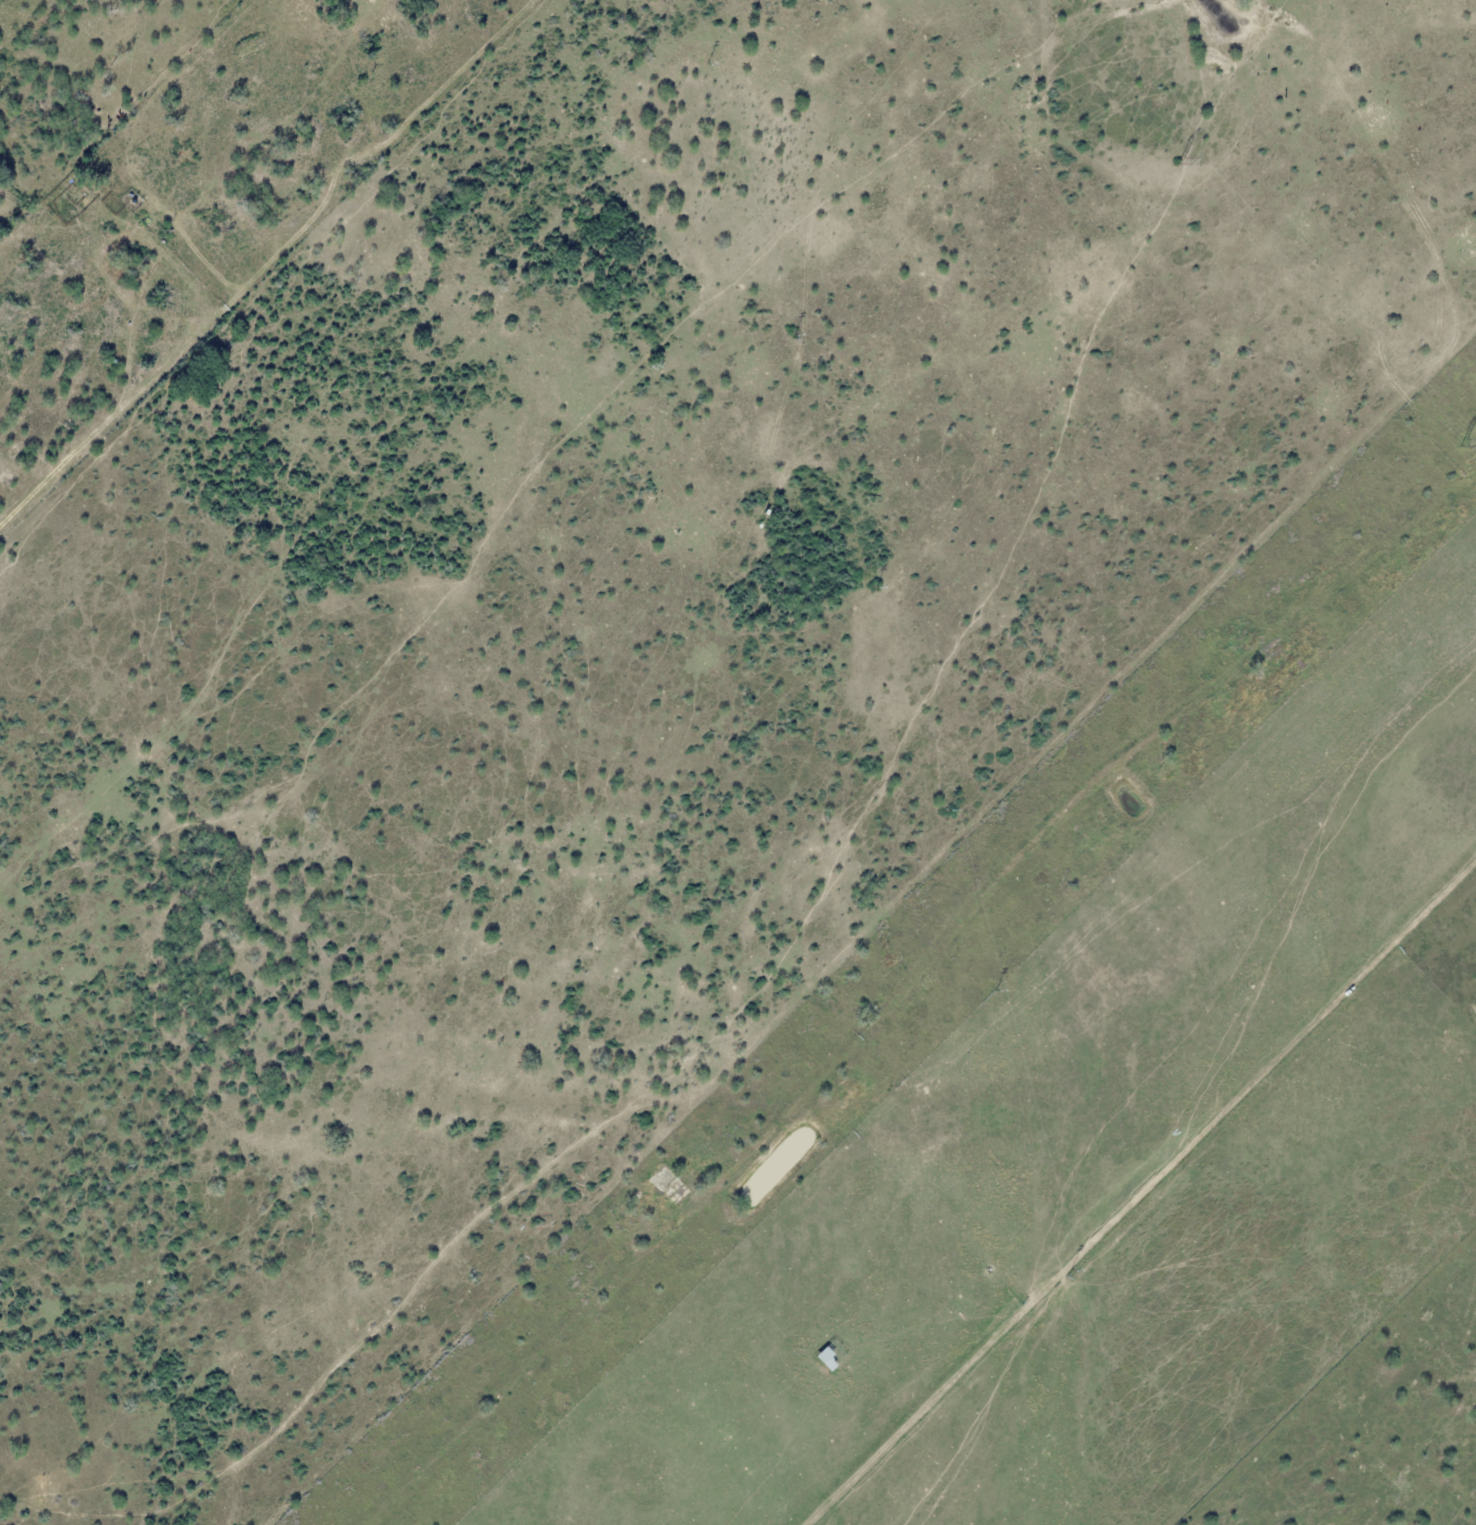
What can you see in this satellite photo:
road: (866, 21)
power tower: (1180, 160)
power tower: (1463, 443)
building: (830, 1355)

